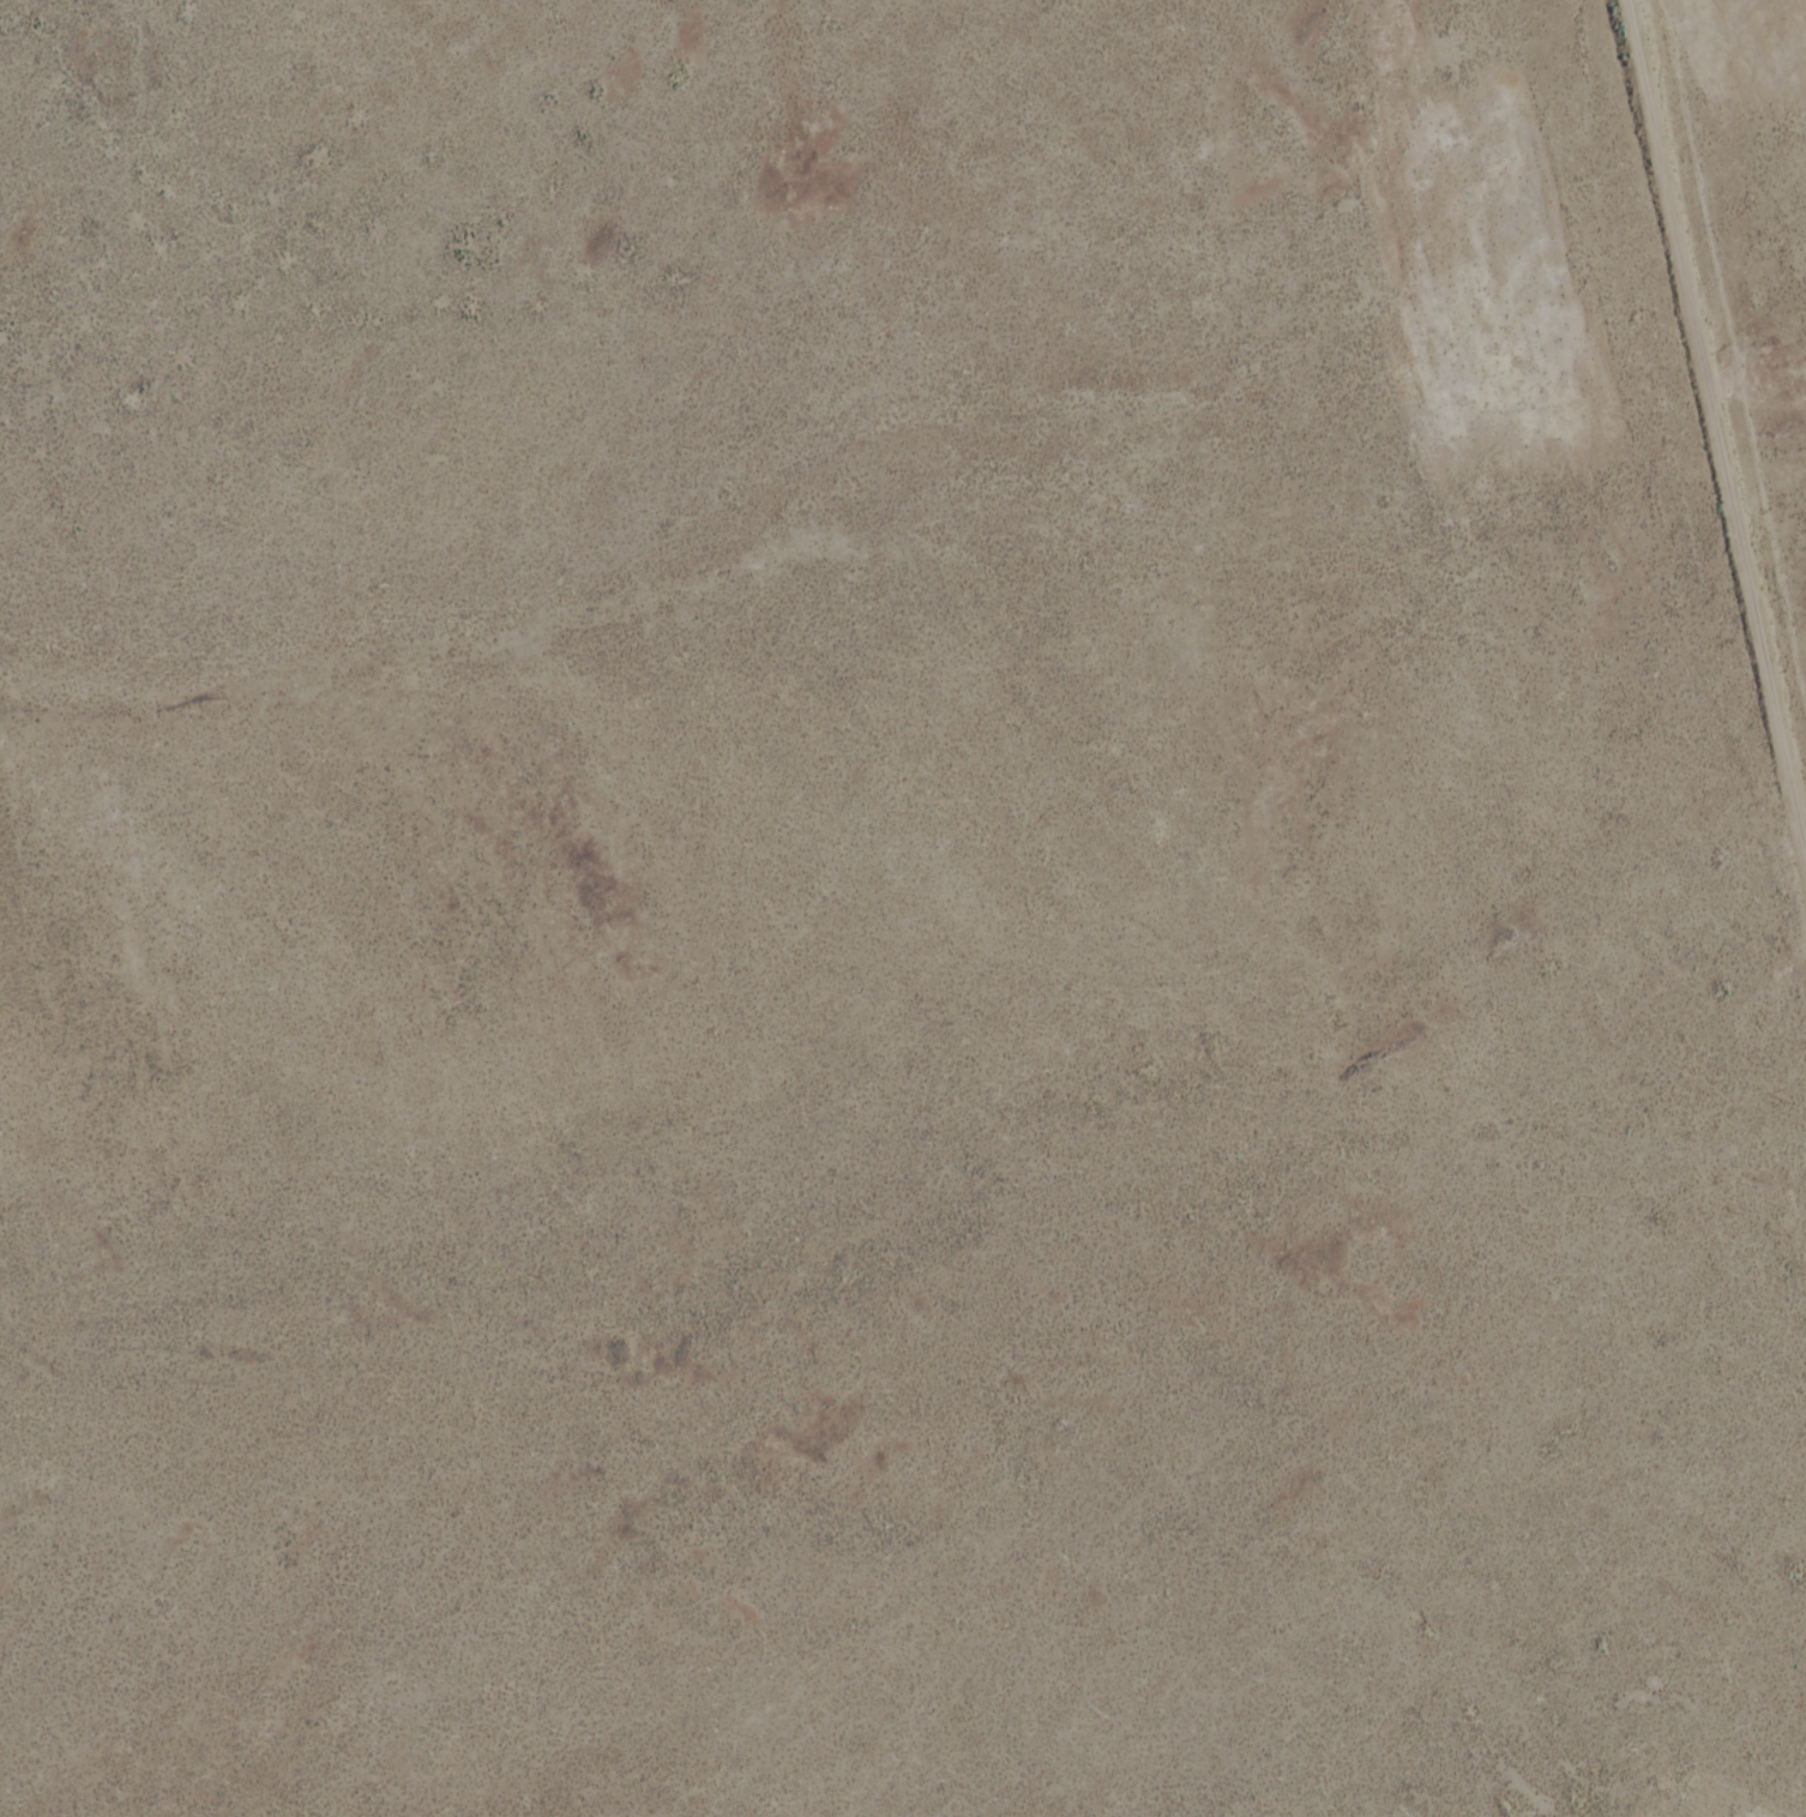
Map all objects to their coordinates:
road: (1715, 435)

